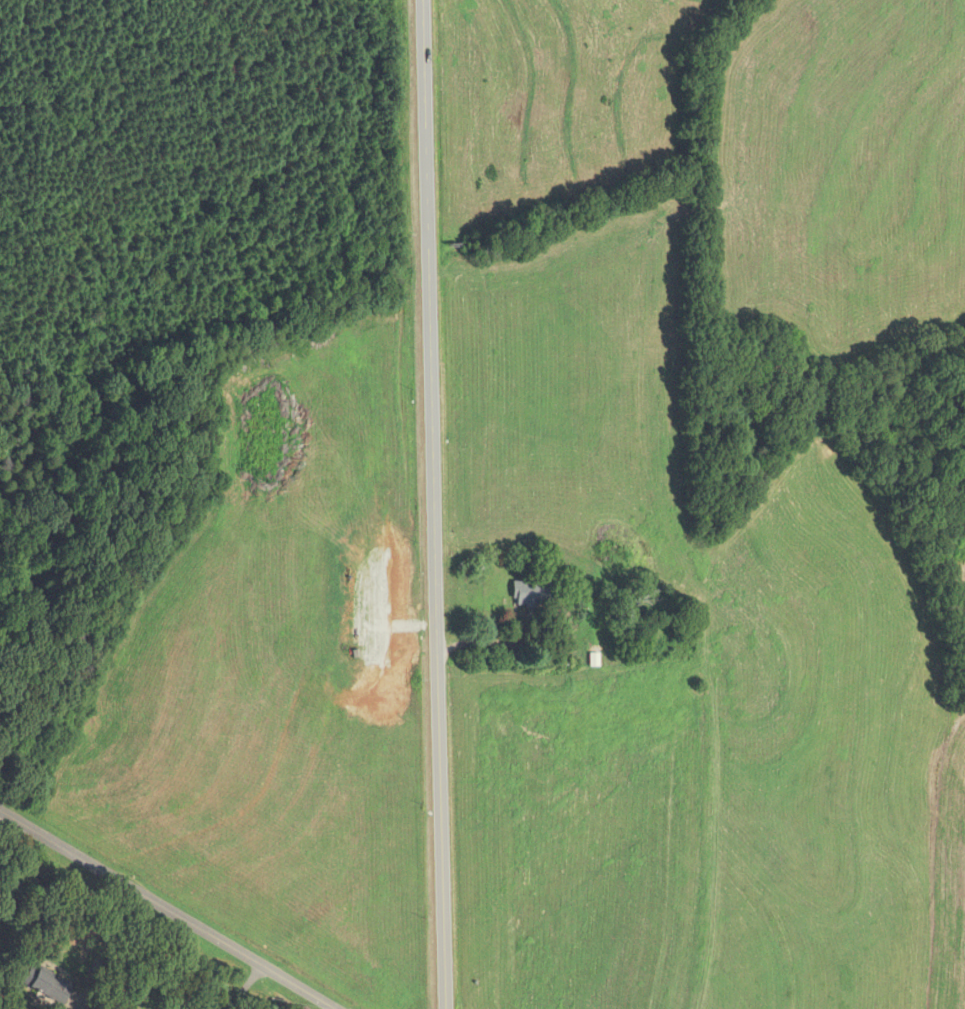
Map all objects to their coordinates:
road: (435, 504)
building: (531, 594)
crop: (963, 594)
crop: (530, 686)
road: (165, 910)
road: (104, 945)
building: (47, 984)
road: (244, 986)

